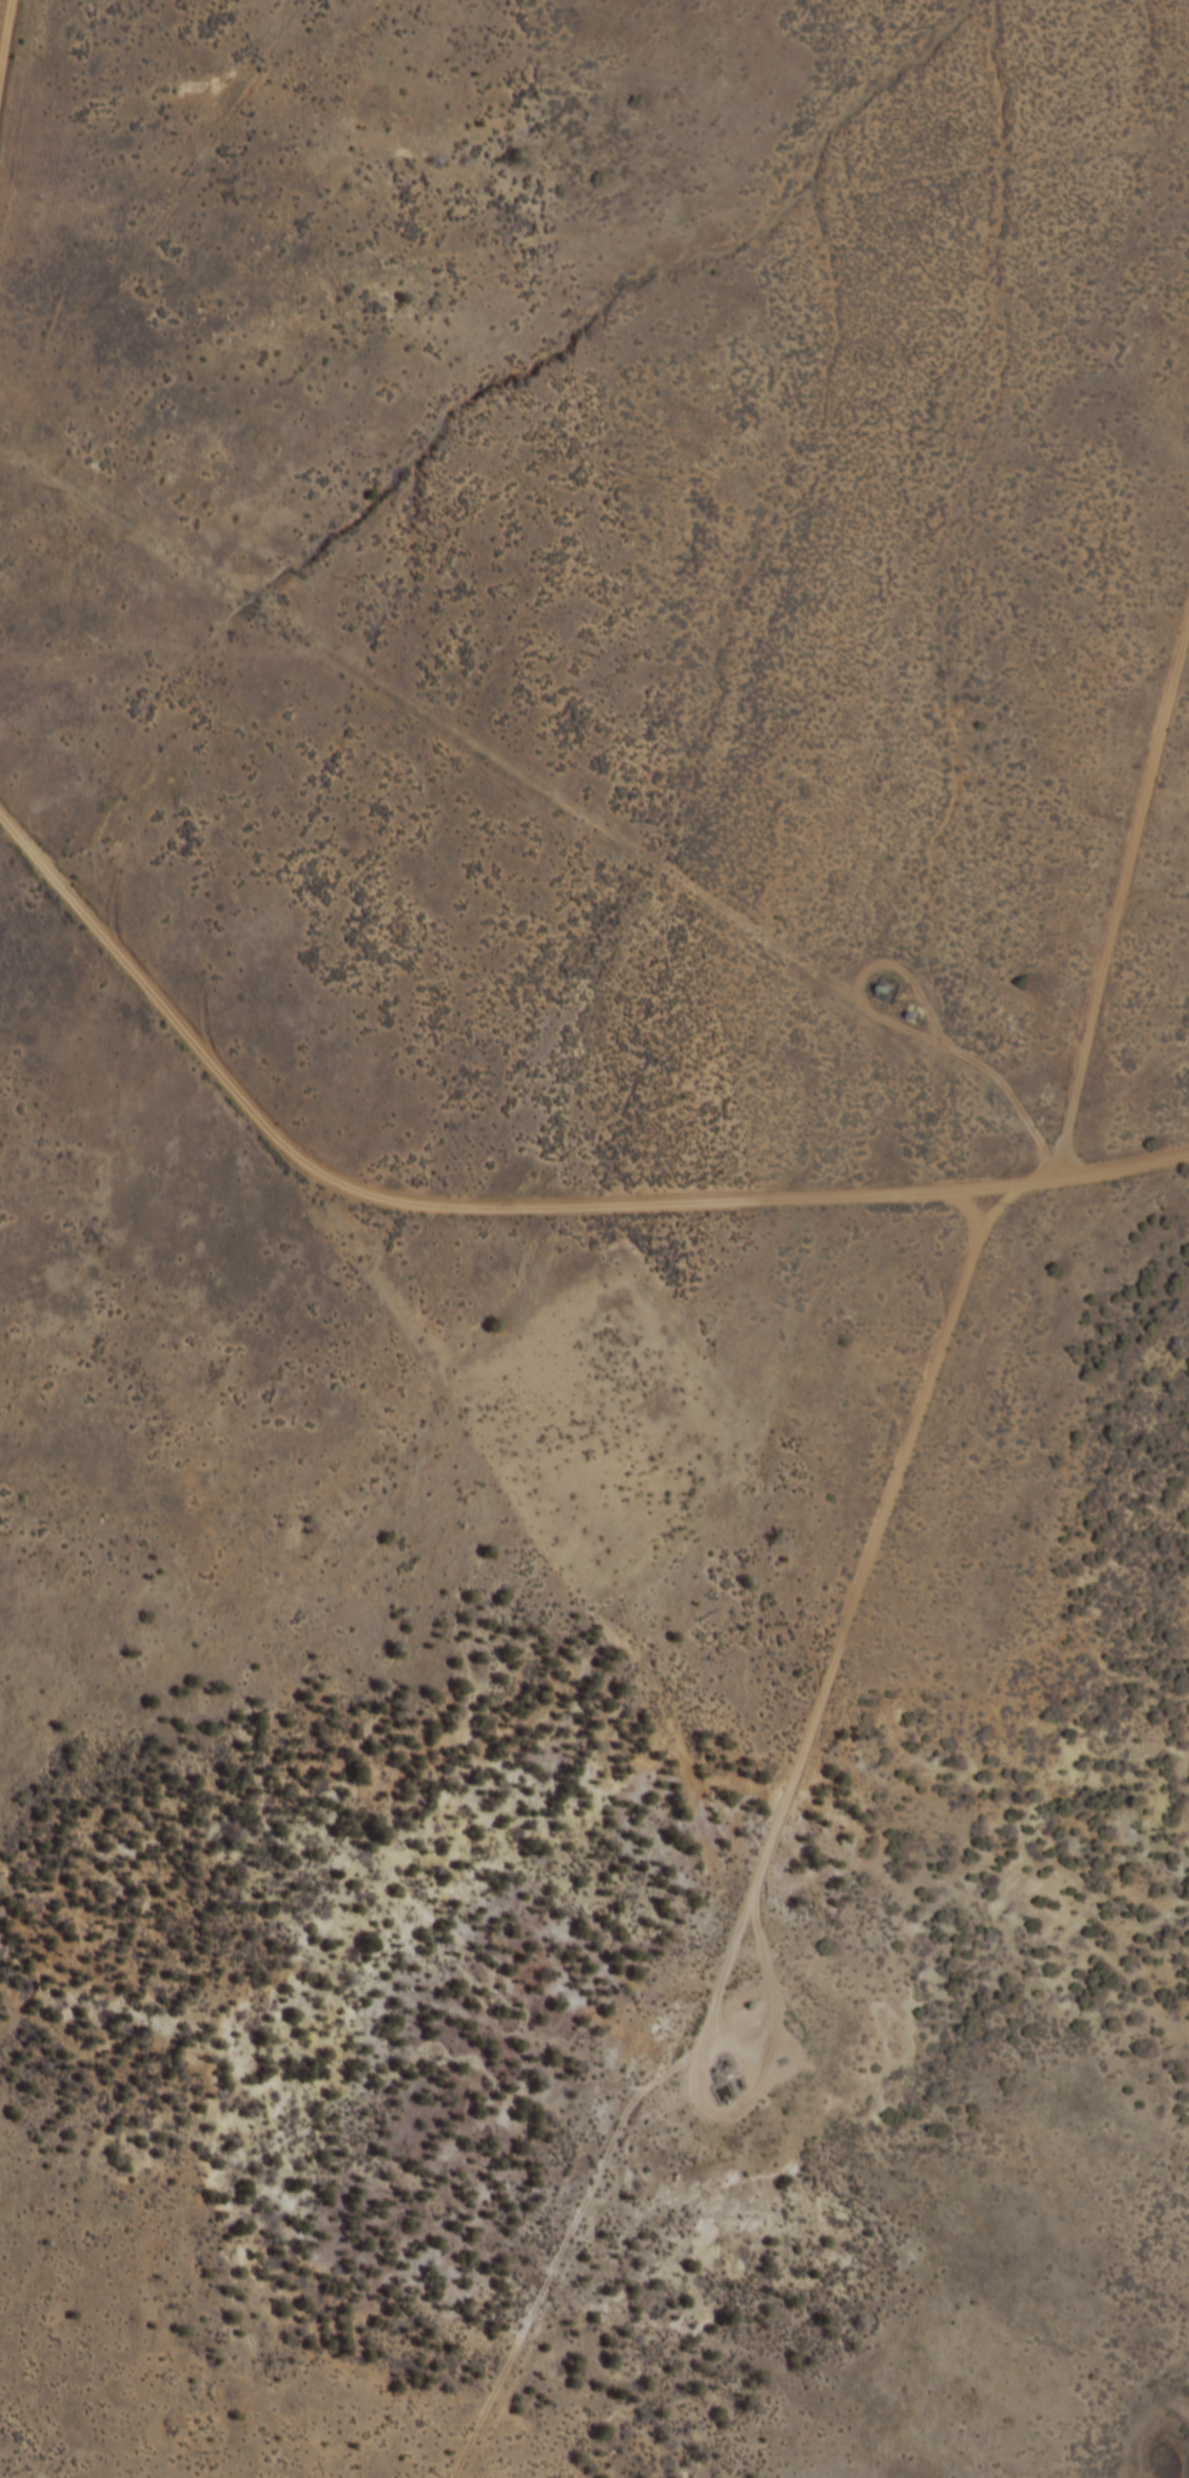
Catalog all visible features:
road: (1117, 868)
road: (517, 1178)
road: (746, 1916)

